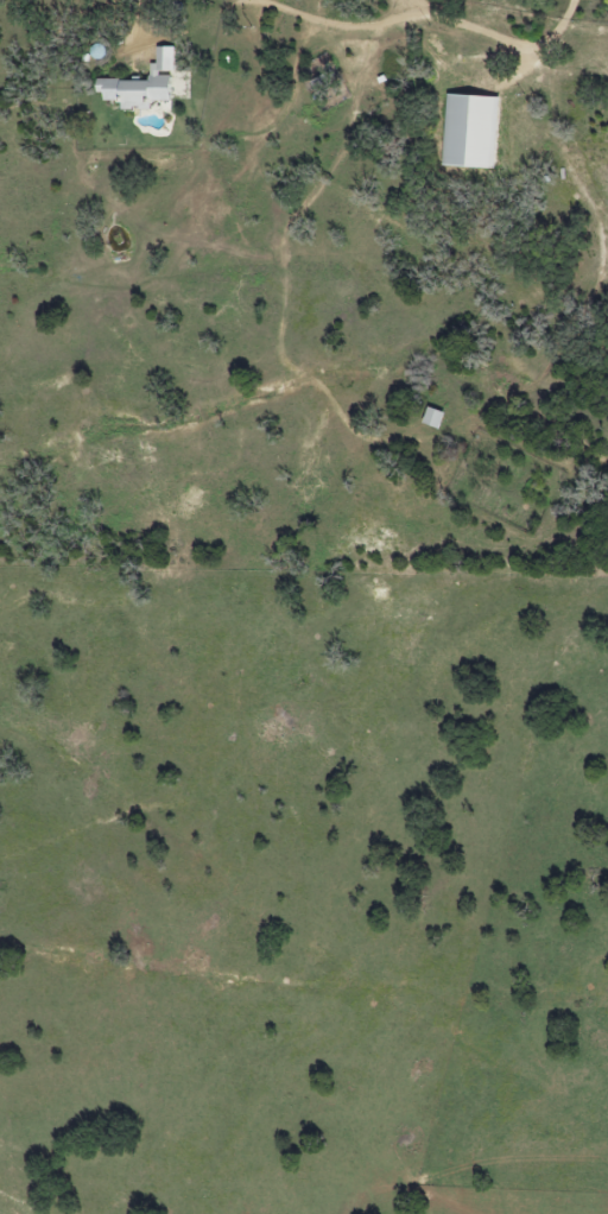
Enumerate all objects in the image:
road: (416, 19)
building: (129, 90)
building: (450, 114)
building: (429, 418)

